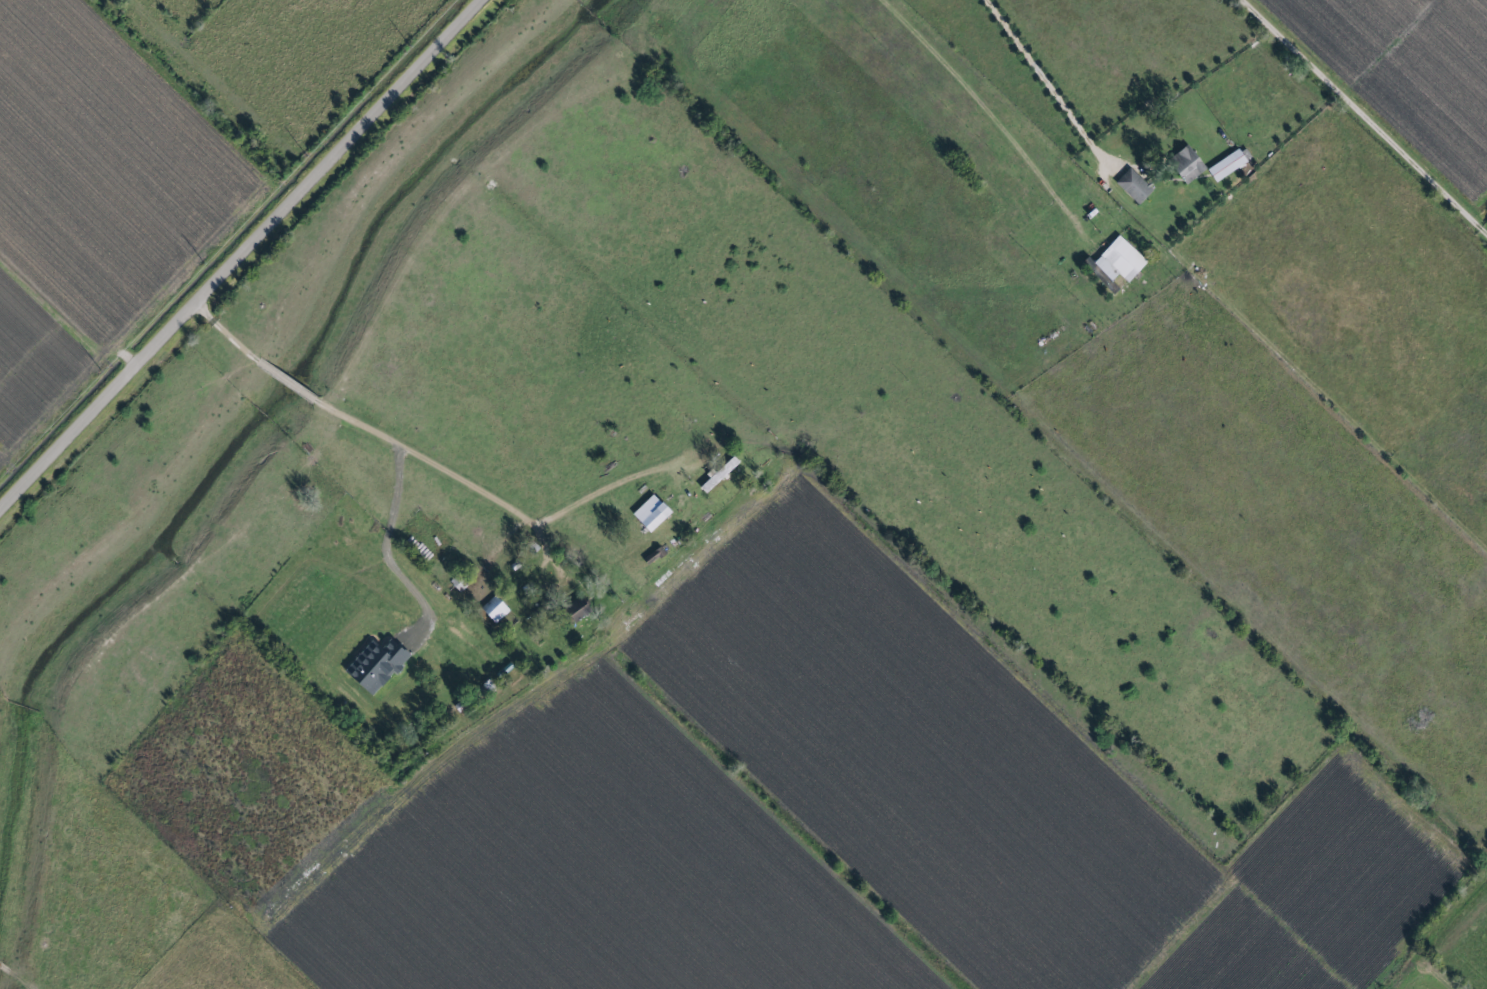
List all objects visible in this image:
road: (1056, 88)
road: (984, 115)
road: (1366, 115)
building: (1184, 164)
building: (1227, 164)
building: (1132, 186)
road: (241, 254)
building: (1115, 263)
road: (423, 462)
building: (716, 475)
building: (648, 513)
road: (387, 553)
building: (492, 610)
building: (573, 611)
building: (372, 666)

